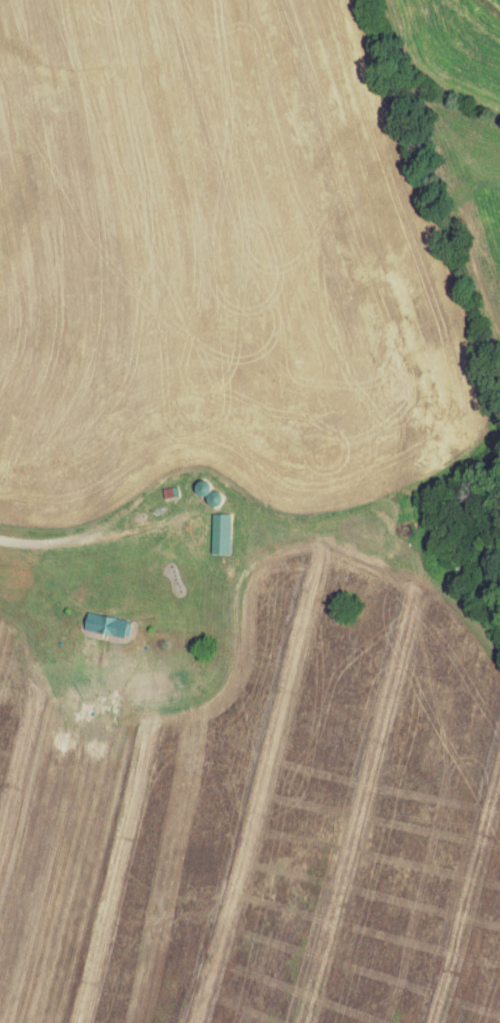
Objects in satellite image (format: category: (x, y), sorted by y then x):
building: (221, 531)
road: (66, 536)
building: (107, 622)

